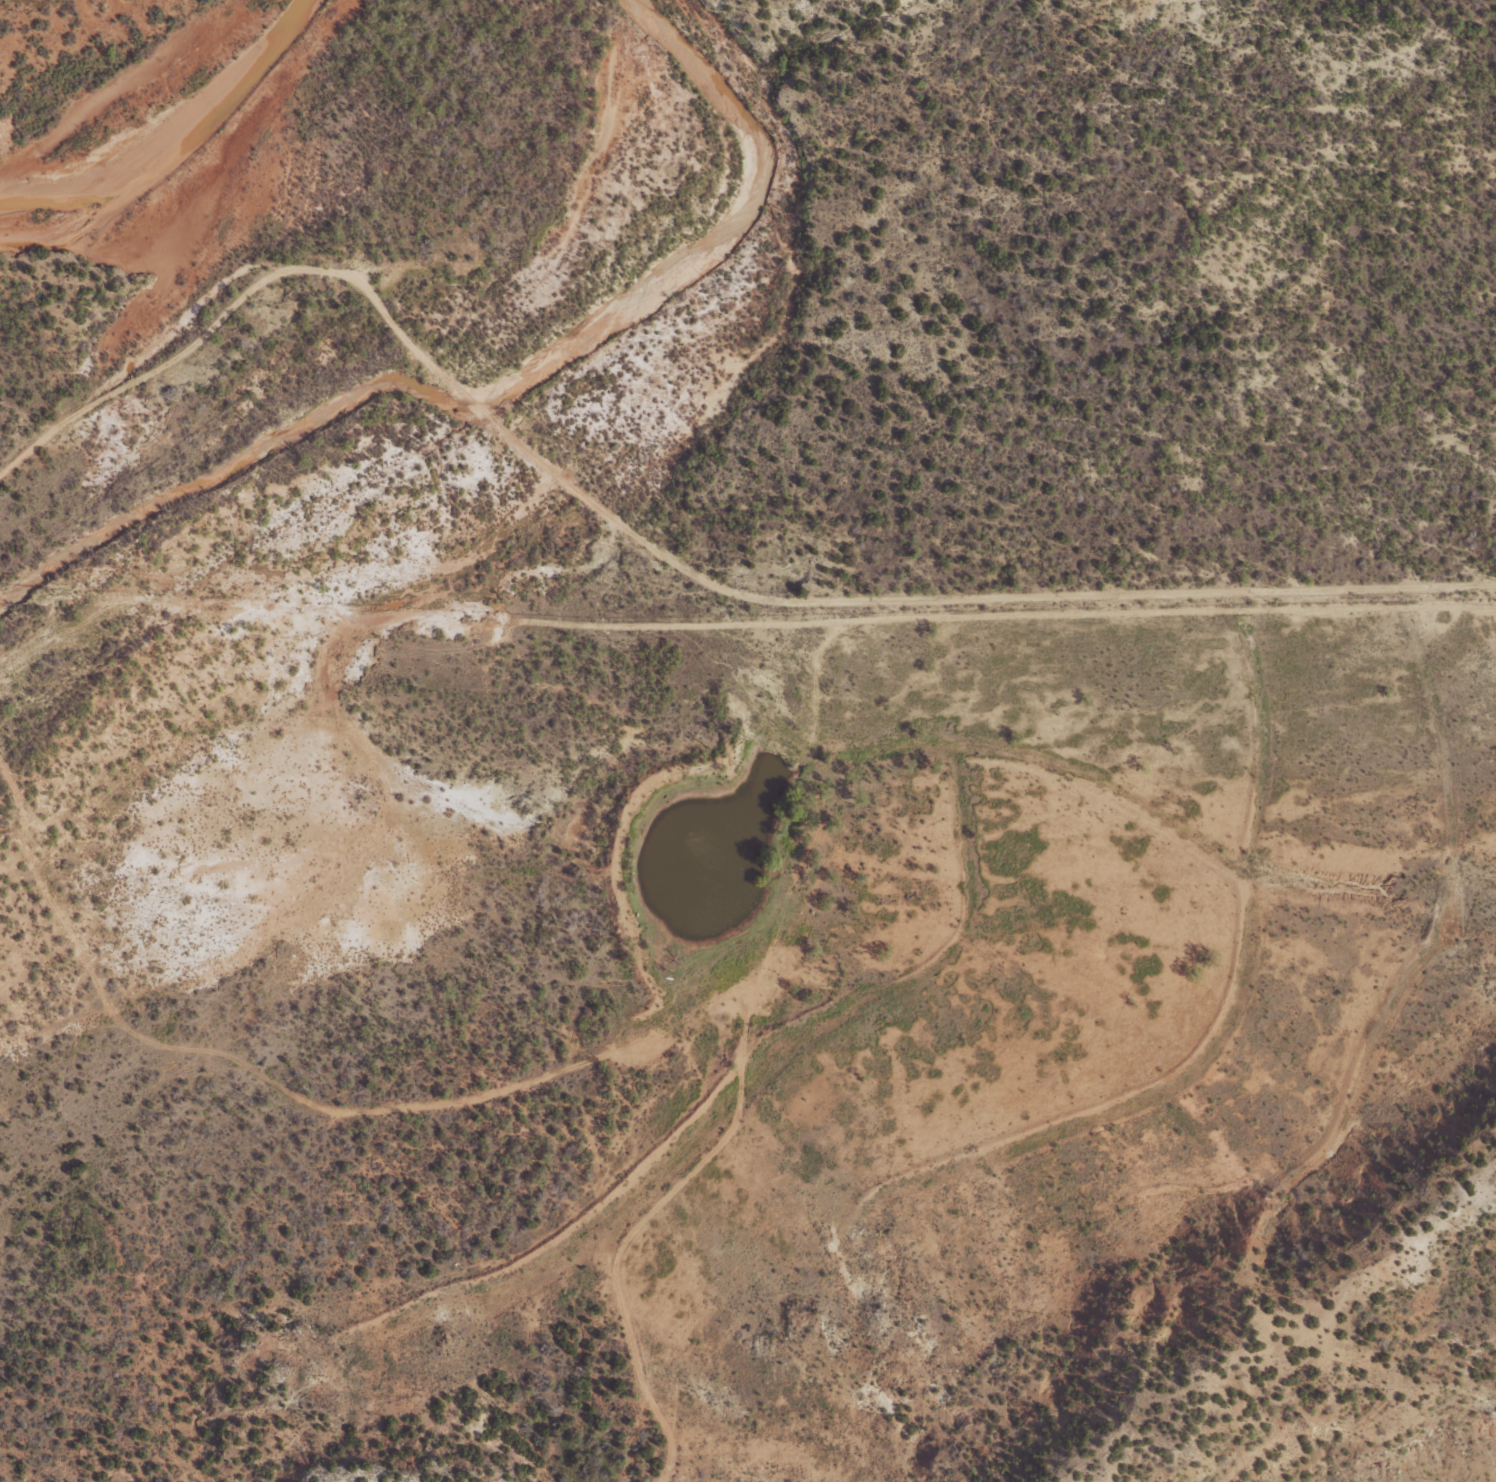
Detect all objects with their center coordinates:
road: (672, 614)

